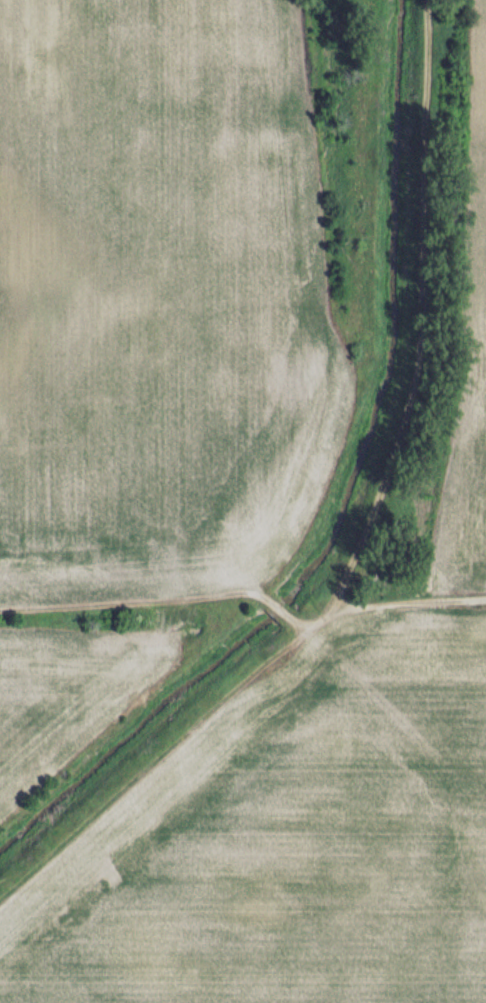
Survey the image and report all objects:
road: (242, 604)

